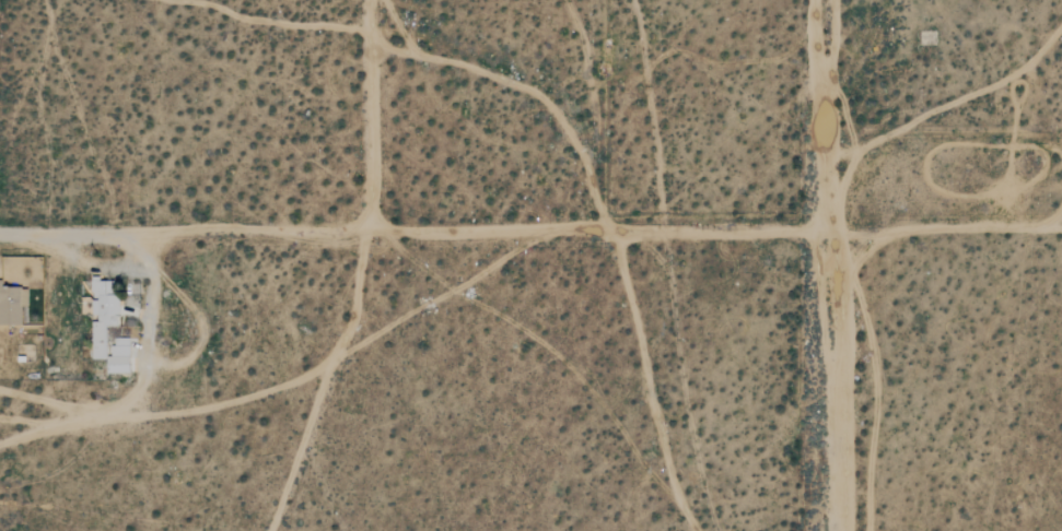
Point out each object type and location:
road: (370, 115)
road: (475, 232)
road: (61, 234)
road: (829, 265)
building: (11, 305)
building: (101, 315)
building: (116, 364)

